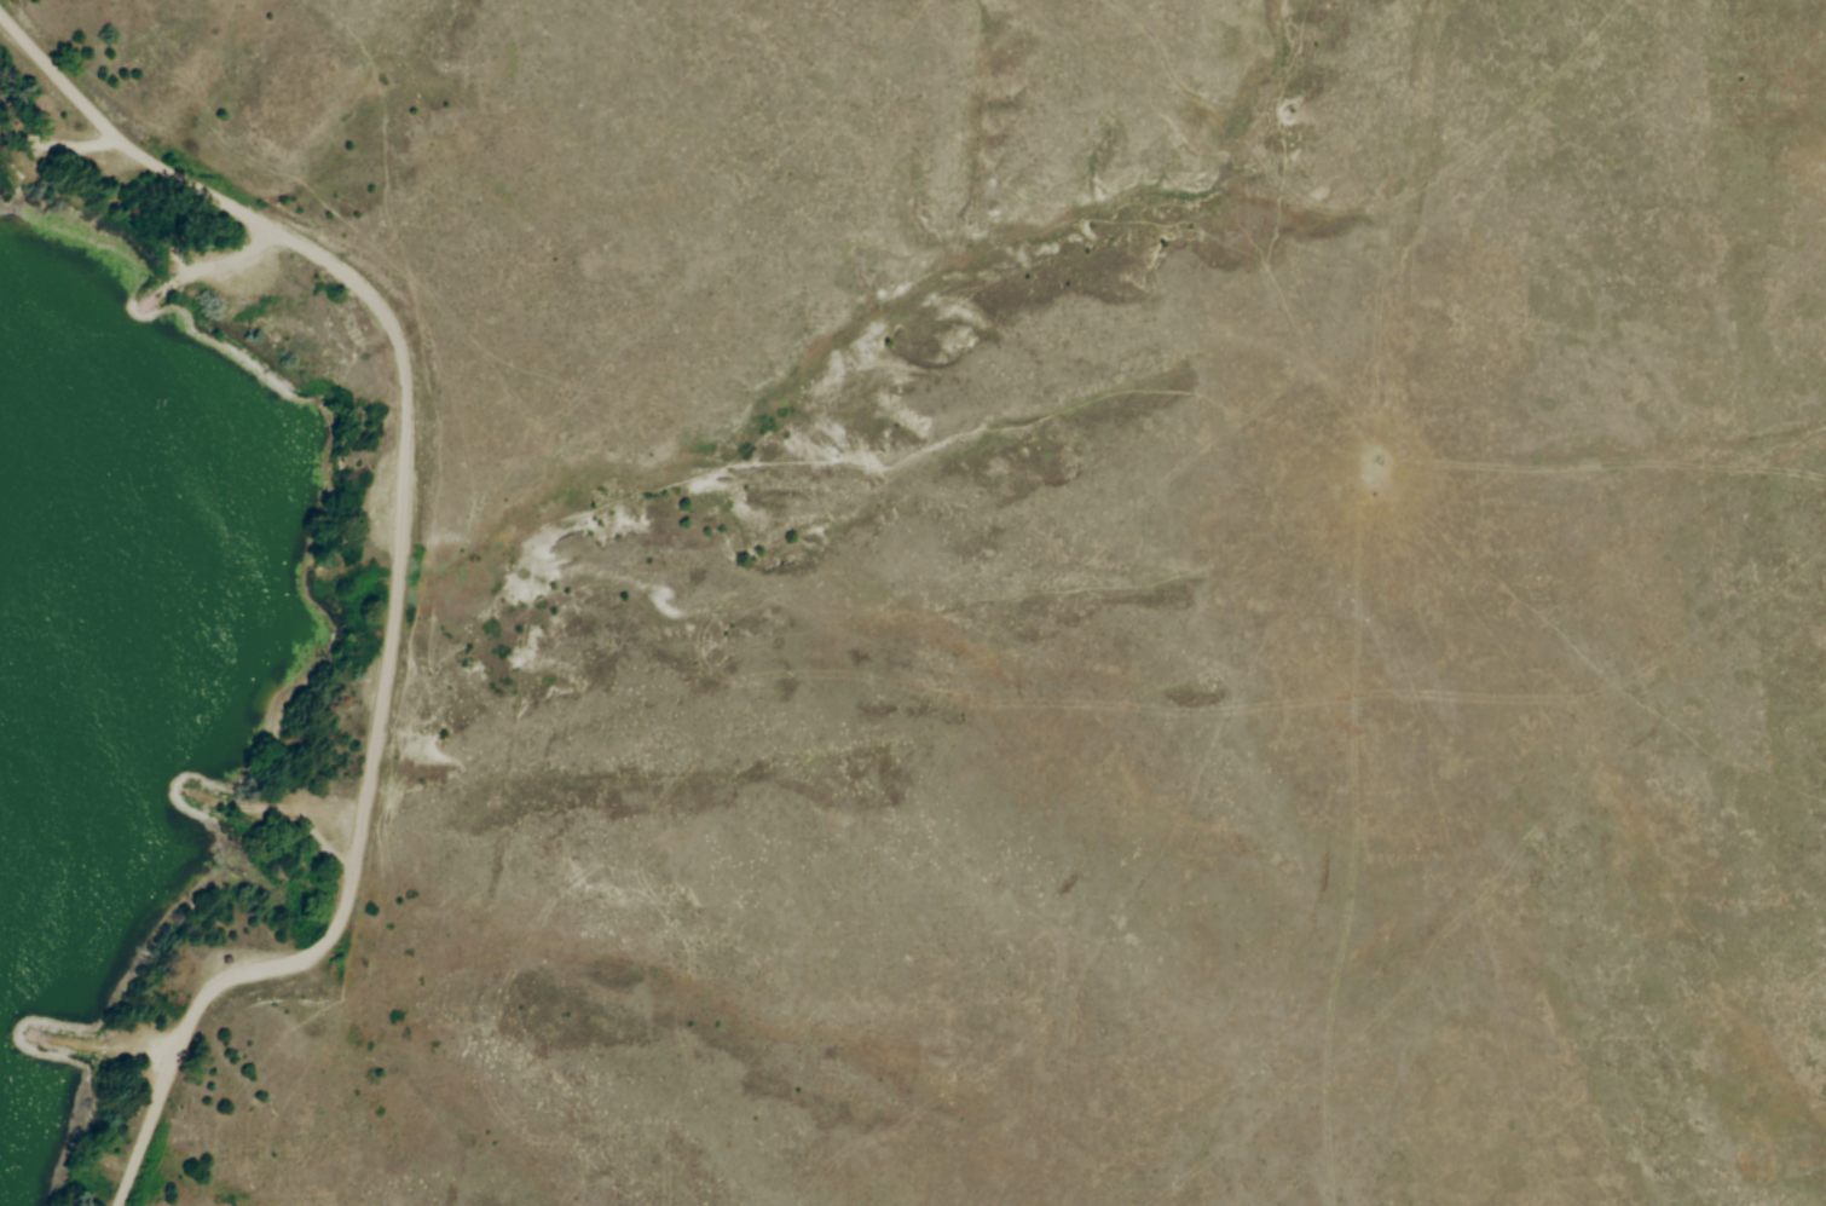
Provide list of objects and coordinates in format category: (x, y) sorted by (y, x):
road: (403, 562)
park: (179, 612)

